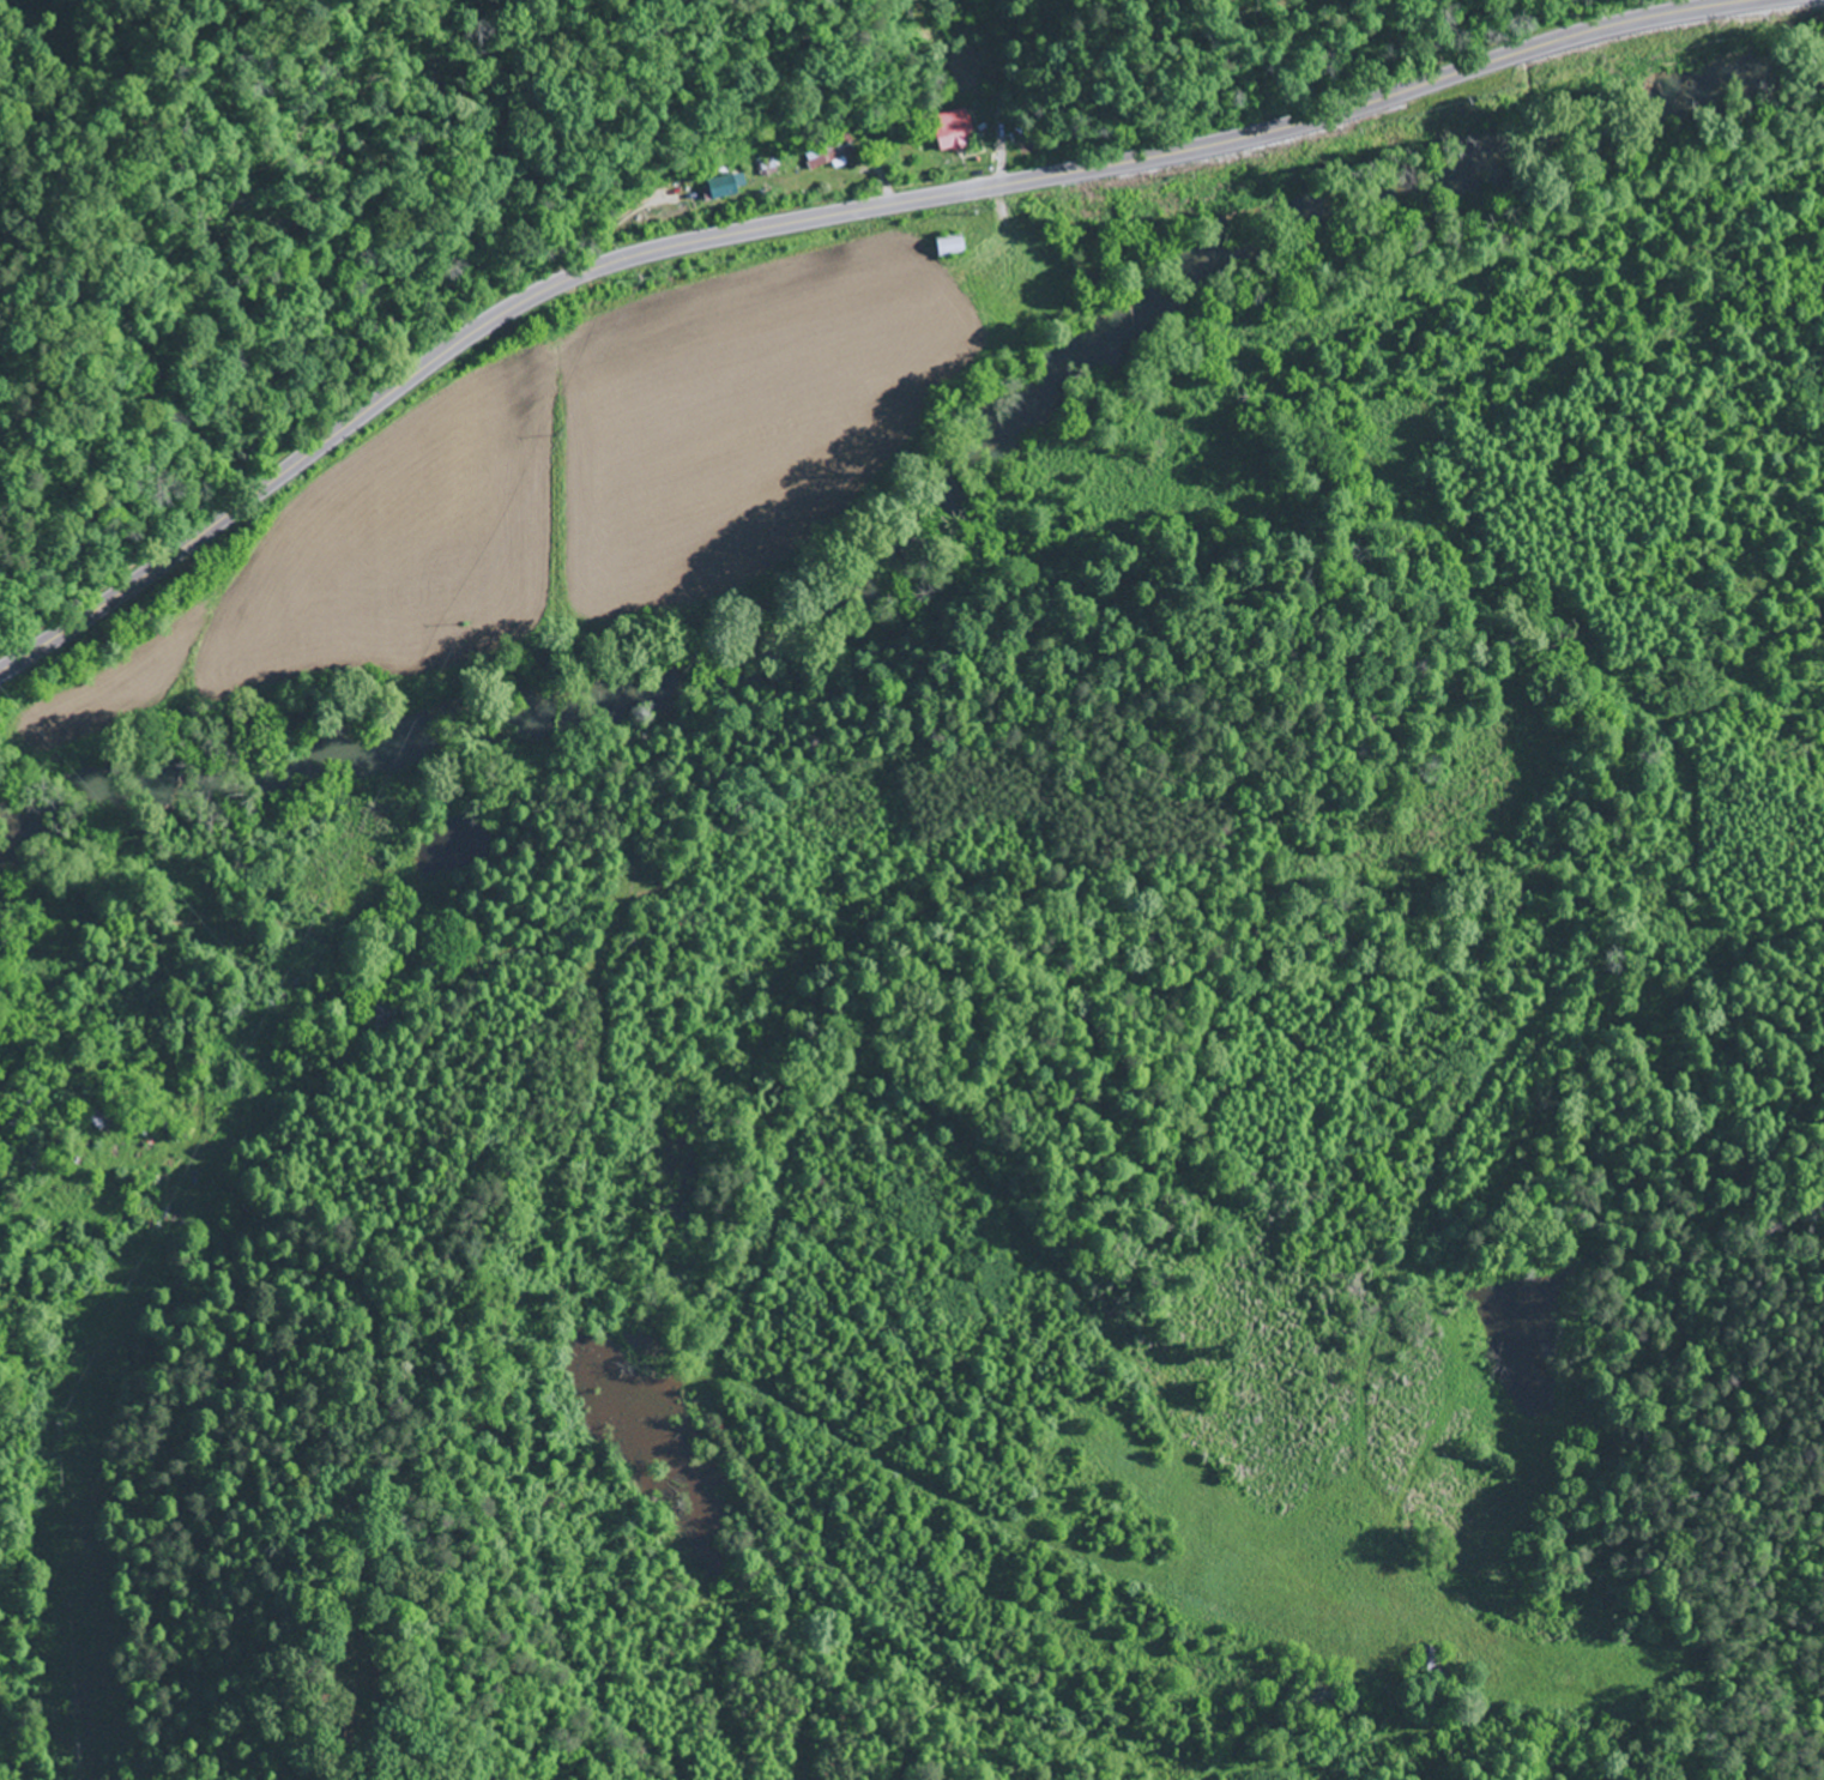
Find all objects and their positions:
building: (956, 131)
road: (838, 215)
building: (956, 247)

